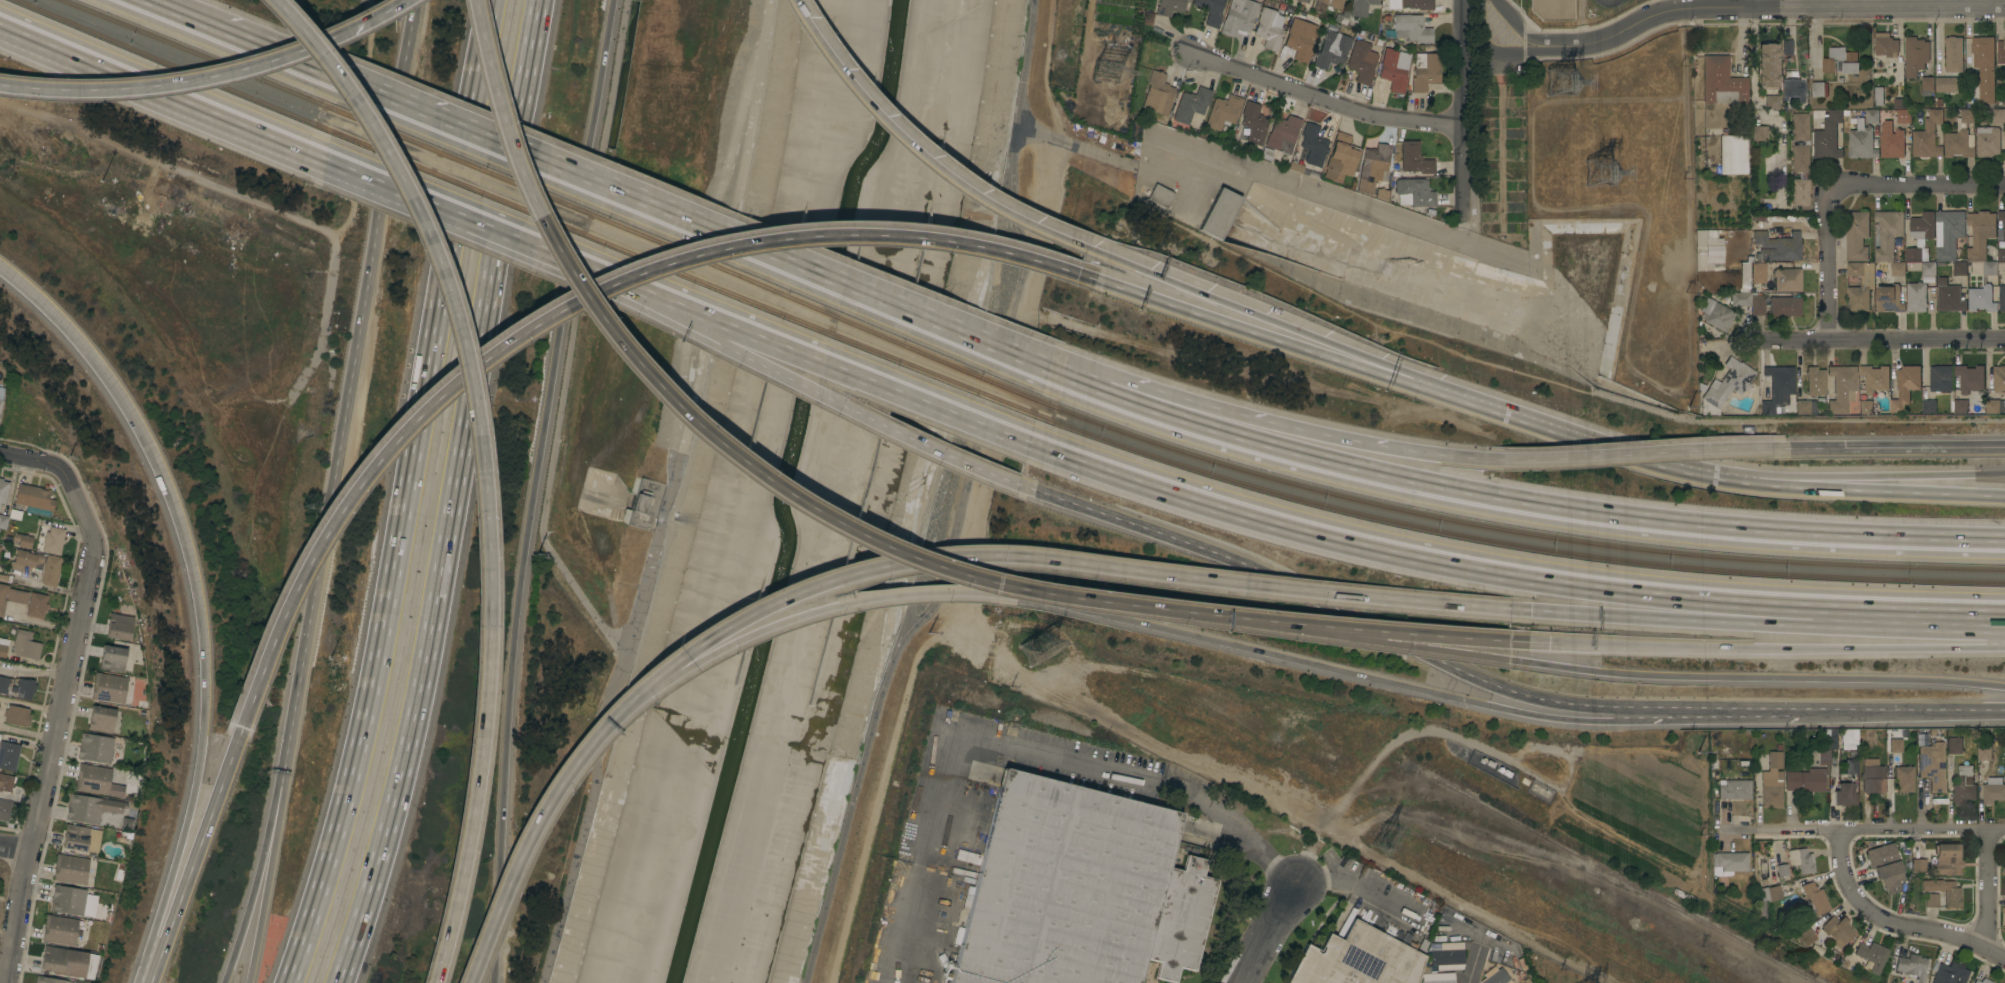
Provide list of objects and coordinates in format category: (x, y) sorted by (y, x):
building: (1303, 1)
road: (1758, 2)
building: (1329, 3)
building: (1417, 4)
road: (1728, 5)
building: (1169, 7)
building: (1360, 7)
building: (1106, 8)
building: (1210, 11)
building: (1238, 16)
building: (1342, 17)
road: (181, 18)
building: (1409, 28)
building: (1269, 29)
building: (1300, 39)
building: (1886, 45)
building: (1787, 46)
building: (1332, 50)
railway: (194, 52)
building: (2001, 52)
building: (1915, 55)
building: (1841, 60)
building: (1362, 62)
road: (294, 63)
railway: (169, 64)
building: (1767, 66)
building: (1951, 66)
building: (1984, 67)
building: (1394, 69)
power tower: (1110, 71)
building: (1425, 71)
road: (1046, 72)
road: (208, 76)
power tower: (1560, 80)
building: (1840, 80)
building: (1722, 82)
building: (1926, 85)
building: (1793, 89)
building: (1819, 89)
road: (160, 93)
road: (1755, 93)
building: (1158, 94)
building: (1878, 96)
road: (1329, 98)
building: (1771, 102)
building: (2004, 102)
building: (1939, 103)
building: (1897, 104)
building: (1191, 105)
road: (1461, 105)
building: (1223, 111)
road: (420, 113)
building: (1871, 116)
building: (1999, 116)
building: (1251, 125)
building: (1760, 133)
building: (1283, 134)
building: (1827, 136)
building: (1895, 136)
building: (1927, 137)
building: (1960, 137)
building: (1862, 142)
building: (1987, 142)
building: (1311, 146)
building: (1800, 153)
building: (1733, 154)
building: (1340, 157)
building: (1414, 158)
road: (932, 163)
building: (1373, 168)
building: (1301, 170)
power tower: (1605, 173)
road: (1916, 184)
building: (1413, 193)
building: (1800, 193)
building: (1380, 194)
building: (1161, 196)
road: (421, 202)
road: (1359, 205)
building: (1219, 213)
building: (2004, 231)
building: (1888, 233)
building: (1950, 233)
road: (717, 235)
building: (1856, 235)
building: (1920, 236)
building: (1982, 239)
building: (1778, 246)
building: (1714, 250)
railway: (685, 253)
building: (2001, 254)
road: (1825, 262)
building: (1958, 268)
building: (1898, 269)
building: (1928, 269)
railway: (680, 272)
building: (1757, 273)
building: (1787, 279)
building: (1860, 286)
building: (2000, 296)
building: (1916, 297)
building: (1889, 299)
building: (1950, 299)
building: (1981, 299)
building: (1749, 302)
building: (1784, 306)
road: (557, 310)
building: (1716, 314)
road: (55, 316)
road: (1312, 335)
road: (1882, 338)
road: (775, 343)
road: (1007, 345)
road: (1295, 345)
road: (1007, 354)
road: (769, 369)
road: (1089, 369)
building: (1875, 378)
building: (1940, 378)
building: (1999, 378)
building: (1816, 380)
building: (1726, 386)
building: (1905, 386)
building: (1778, 387)
building: (1842, 387)
road: (353, 390)
building: (1964, 390)
building: (1, 404)
building: (1802, 407)
building: (1865, 407)
building: (1929, 407)
road: (1295, 428)
road: (1621, 446)
road: (1909, 446)
road: (1642, 452)
road: (30, 462)
road: (740, 465)
road: (477, 466)
road: (1875, 475)
road: (532, 489)
road: (1874, 489)
building: (3, 491)
river: (781, 491)
road: (407, 495)
road: (452, 495)
building: (33, 497)
road: (961, 501)
building: (640, 502)
road: (1521, 507)
building: (3, 522)
railway: (1516, 531)
building: (24, 539)
building: (53, 541)
road: (183, 543)
railway: (1514, 543)
building: (0, 548)
road: (1063, 562)
building: (37, 565)
road: (1508, 574)
building: (10, 579)
building: (11, 597)
road: (1330, 604)
building: (36, 605)
road: (797, 615)
road: (1777, 622)
building: (120, 627)
road: (1408, 631)
building: (25, 646)
building: (3, 647)
road: (1779, 647)
road: (1435, 649)
power tower: (1042, 650)
road: (69, 656)
building: (113, 658)
road: (1319, 666)
road: (34, 673)
road: (1807, 677)
building: (4, 684)
building: (24, 688)
building: (109, 688)
road: (29, 703)
road: (1904, 713)
building: (17, 716)
road: (1720, 716)
building: (101, 719)
building: (1868, 736)
building: (1846, 739)
building: (1895, 745)
building: (1954, 745)
building: (95, 748)
road: (1020, 750)
building: (1984, 752)
building: (8, 755)
building: (1826, 761)
building: (1932, 765)
building: (1851, 767)
building: (1872, 777)
building: (1904, 778)
building: (100, 780)
building: (1806, 780)
building: (6, 782)
building: (1772, 782)
building: (1964, 785)
building: (1735, 789)
building: (1993, 790)
building: (1843, 795)
building: (1740, 807)
building: (91, 808)
building: (4, 810)
road: (1884, 830)
power tower: (1385, 835)
building: (82, 838)
road: (526, 840)
building: (1721, 846)
road: (15, 847)
railway: (1534, 850)
road: (175, 858)
building: (1801, 860)
building: (1946, 860)
road: (191, 862)
building: (1729, 862)
building: (1885, 866)
building: (1918, 866)
building: (70, 869)
building: (1782, 870)
building: (1764, 876)
road: (264, 881)
railway: (1626, 881)
road: (254, 882)
road: (1354, 885)
building: (1079, 890)
road: (1990, 892)
building: (1951, 894)
building: (1815, 898)
building: (1765, 899)
building: (68, 900)
building: (1931, 900)
road: (18, 916)
road: (1893, 923)
building: (1837, 929)
building: (60, 930)
road: (1272, 931)
building: (1806, 937)
building: (1872, 955)
building: (1447, 956)
building: (1357, 960)
building: (63, 961)
road: (1474, 965)
building: (1910, 966)
building: (1949, 973)
building: (1495, 976)
building: (1440, 978)
building: (49, 980)
building: (1982, 981)

